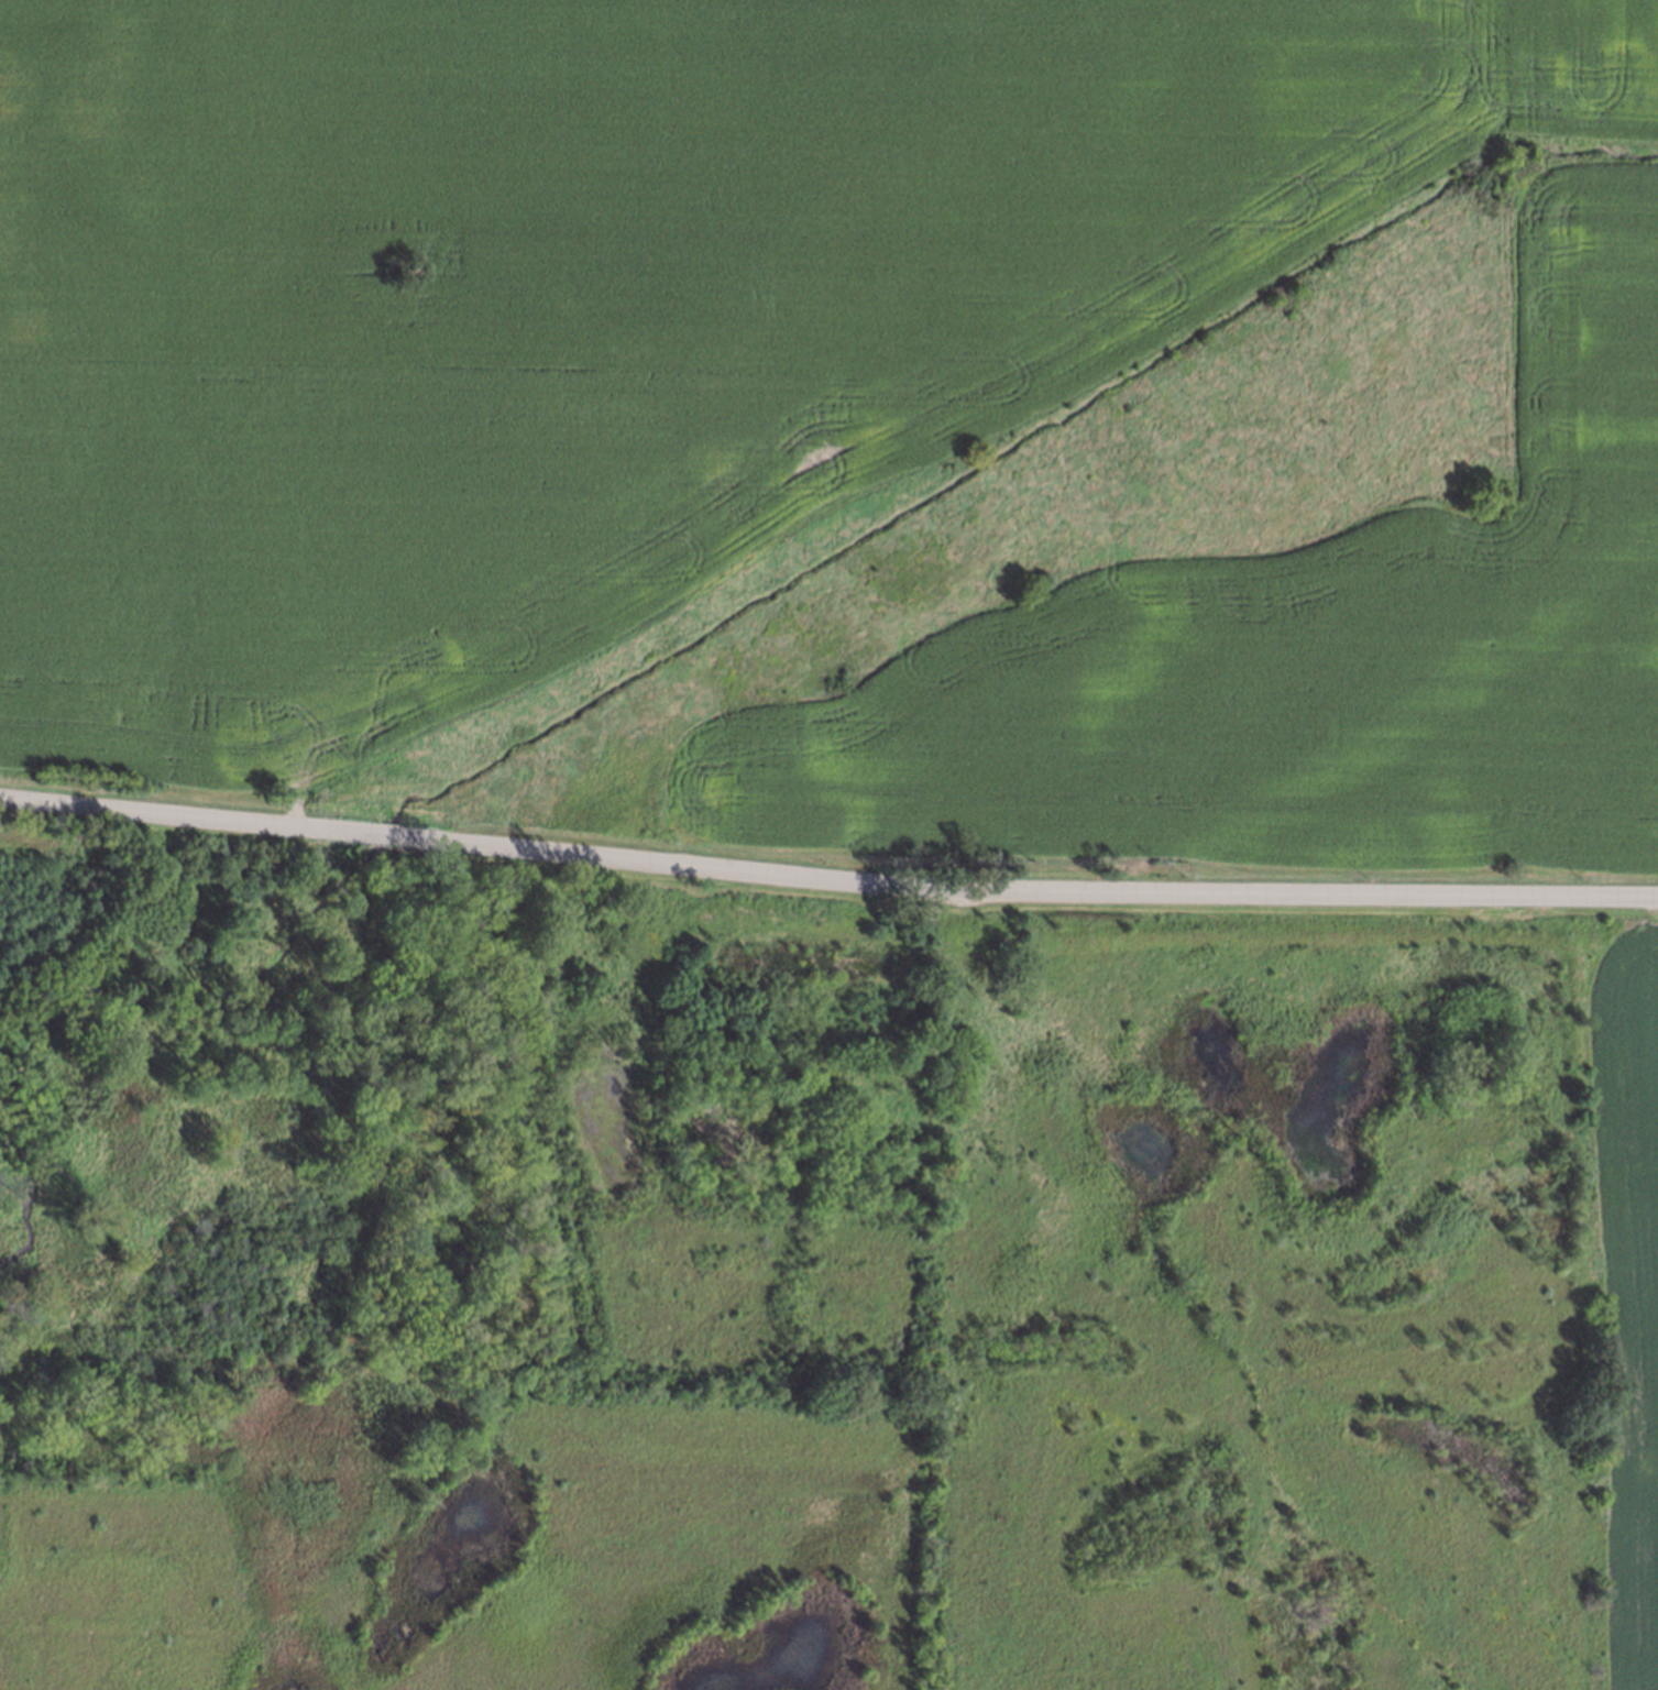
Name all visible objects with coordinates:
road: (187, 817)
road: (383, 837)
road: (1023, 889)

